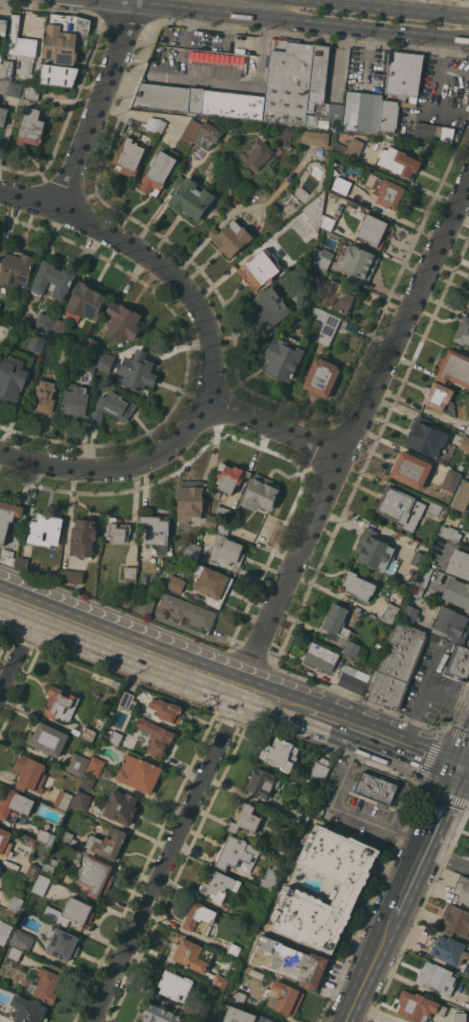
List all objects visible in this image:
building: (465, 0)
road: (260, 6)
road: (391, 8)
road: (304, 18)
road: (185, 26)
building: (3, 27)
road: (228, 29)
building: (65, 38)
building: (20, 40)
building: (276, 44)
building: (165, 51)
building: (248, 61)
building: (8, 70)
building: (403, 73)
building: (58, 75)
road: (220, 80)
building: (295, 82)
building: (14, 89)
building: (33, 92)
building: (203, 98)
road: (99, 104)
building: (362, 111)
building: (391, 113)
building: (3, 115)
building: (326, 117)
building: (154, 124)
building: (30, 127)
building: (191, 131)
building: (434, 131)
building: (286, 133)
building: (207, 135)
building: (315, 138)
building: (289, 147)
building: (351, 149)
building: (130, 151)
building: (278, 151)
building: (256, 153)
building: (327, 160)
building: (398, 161)
building: (157, 173)
building: (341, 185)
building: (386, 191)
building: (189, 198)
building: (312, 207)
building: (364, 210)
building: (328, 222)
building: (373, 230)
building: (230, 237)
building: (0, 242)
building: (322, 258)
building: (358, 263)
building: (15, 267)
building: (259, 268)
building: (311, 273)
building: (52, 280)
building: (337, 296)
building: (312, 298)
building: (85, 301)
building: (0, 302)
building: (468, 304)
building: (268, 308)
road: (201, 309)
building: (122, 321)
building: (45, 322)
building: (324, 323)
building: (58, 327)
building: (462, 331)
building: (3, 332)
building: (36, 342)
building: (91, 345)
building: (65, 355)
building: (283, 359)
building: (105, 361)
building: (89, 362)
building: (454, 368)
building: (137, 371)
building: (14, 375)
building: (321, 377)
building: (45, 395)
building: (440, 398)
building: (75, 402)
building: (112, 407)
road: (353, 429)
building: (467, 429)
building: (428, 438)
building: (465, 443)
road: (115, 468)
building: (411, 469)
building: (230, 477)
building: (451, 480)
building: (216, 493)
building: (260, 493)
building: (461, 496)
building: (191, 500)
building: (397, 506)
building: (435, 509)
building: (224, 513)
building: (7, 517)
building: (211, 521)
building: (224, 526)
building: (44, 529)
building: (156, 529)
building: (117, 530)
building: (450, 532)
building: (83, 537)
building: (225, 549)
building: (192, 551)
building: (376, 552)
building: (7, 557)
building: (418, 558)
building: (22, 562)
building: (459, 563)
building: (147, 566)
building: (130, 571)
building: (71, 576)
building: (422, 580)
building: (176, 583)
building: (139, 584)
building: (212, 584)
building: (357, 585)
building: (457, 593)
building: (145, 605)
building: (189, 611)
building: (390, 613)
building: (409, 615)
road: (17, 617)
road: (106, 620)
building: (338, 624)
building: (452, 624)
road: (31, 631)
building: (351, 648)
road: (119, 655)
building: (319, 655)
building: (458, 664)
building: (397, 666)
road: (14, 669)
building: (353, 679)
road: (224, 680)
building: (116, 683)
road: (422, 699)
building: (127, 700)
road: (447, 701)
road: (237, 703)
building: (60, 704)
building: (167, 710)
road: (350, 728)
building: (89, 733)
building: (115, 737)
building: (155, 737)
building: (47, 739)
building: (281, 753)
road: (463, 756)
building: (78, 762)
building: (95, 766)
building: (320, 768)
traffic signals: (458, 769)
road: (463, 771)
building: (29, 773)
building: (138, 773)
building: (87, 782)
building: (263, 782)
building: (374, 788)
building: (63, 800)
building: (81, 800)
building: (14, 805)
building: (120, 806)
building: (316, 810)
road: (341, 811)
building: (296, 815)
building: (245, 818)
building: (45, 836)
building: (65, 837)
road: (425, 840)
building: (5, 842)
building: (107, 843)
building: (282, 847)
building: (235, 853)
road: (446, 856)
building: (49, 865)
building: (0, 867)
building: (33, 870)
road: (161, 870)
building: (95, 876)
building: (271, 877)
building: (41, 884)
building: (218, 885)
building: (349, 888)
building: (463, 889)
building: (15, 903)
building: (252, 910)
building: (72, 912)
building: (198, 917)
building: (454, 921)
building: (4, 932)
building: (22, 939)
building: (63, 944)
building: (234, 949)
building: (448, 949)
building: (14, 953)
building: (189, 955)
building: (289, 961)
road: (368, 967)
building: (255, 974)
building: (437, 978)
building: (219, 982)
building: (47, 985)
building: (173, 986)
building: (239, 997)
building: (284, 998)
building: (418, 1006)
building: (26, 1010)
building: (159, 1014)
building: (0, 1015)
building: (202, 1016)
building: (244, 1016)
building: (460, 1016)
building: (195, 1021)

